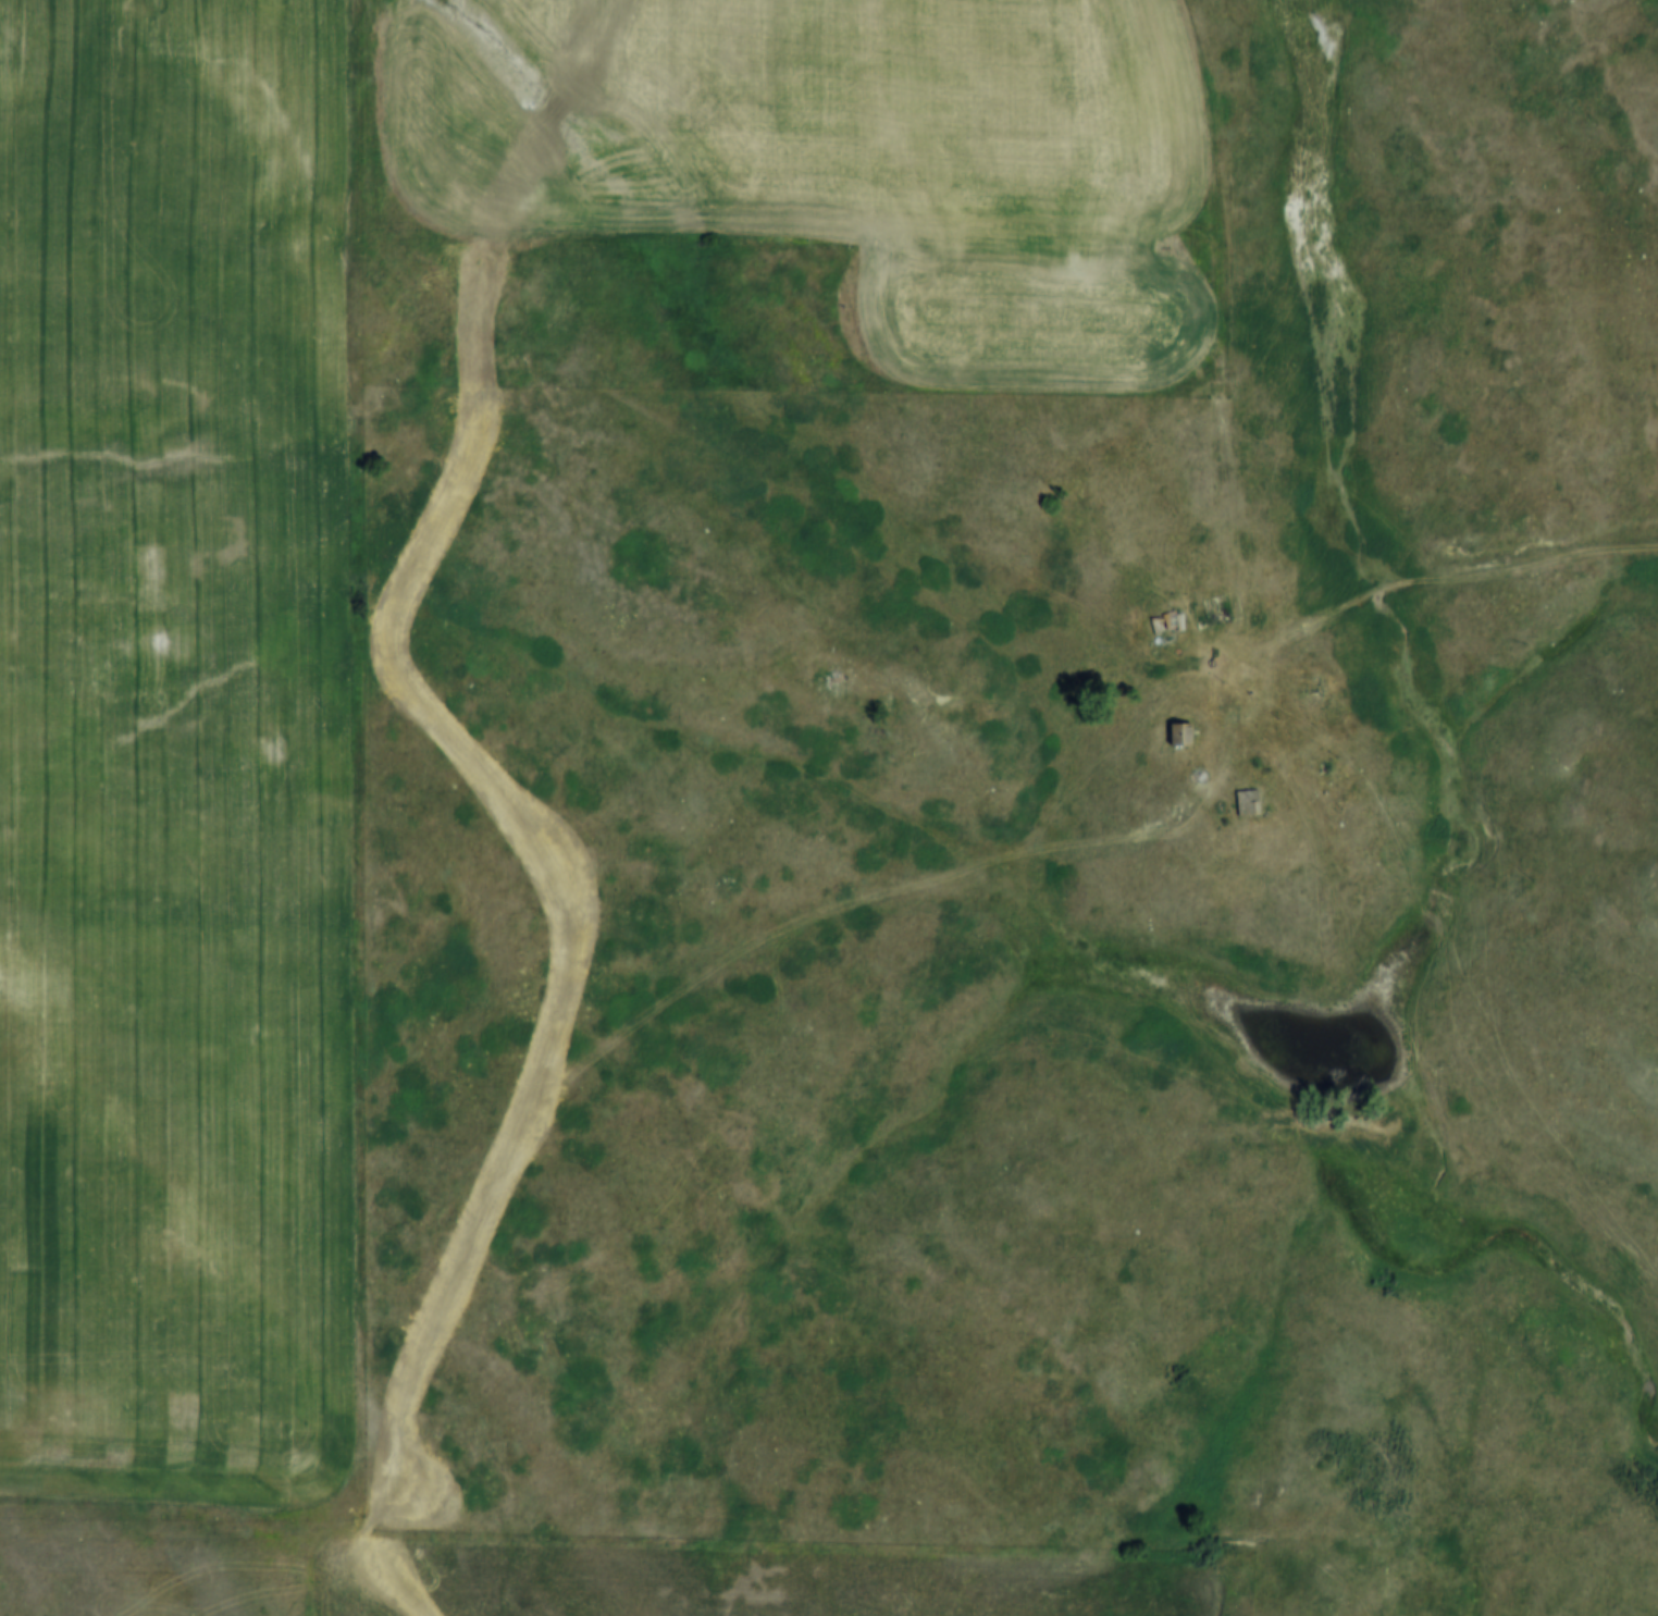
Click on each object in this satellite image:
building: (1166, 620)
building: (1180, 733)
building: (1248, 802)

